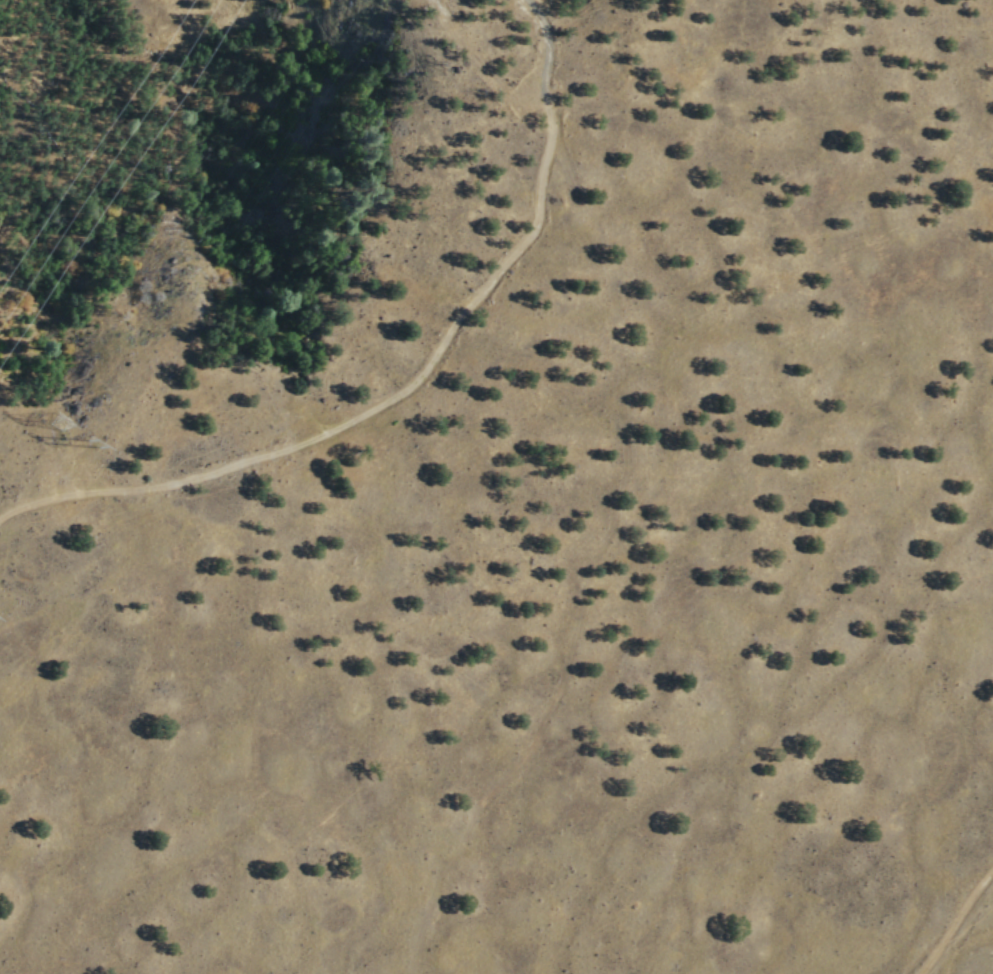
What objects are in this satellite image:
road: (409, 382)
power tower: (63, 429)
power tower: (108, 452)
road: (954, 921)

